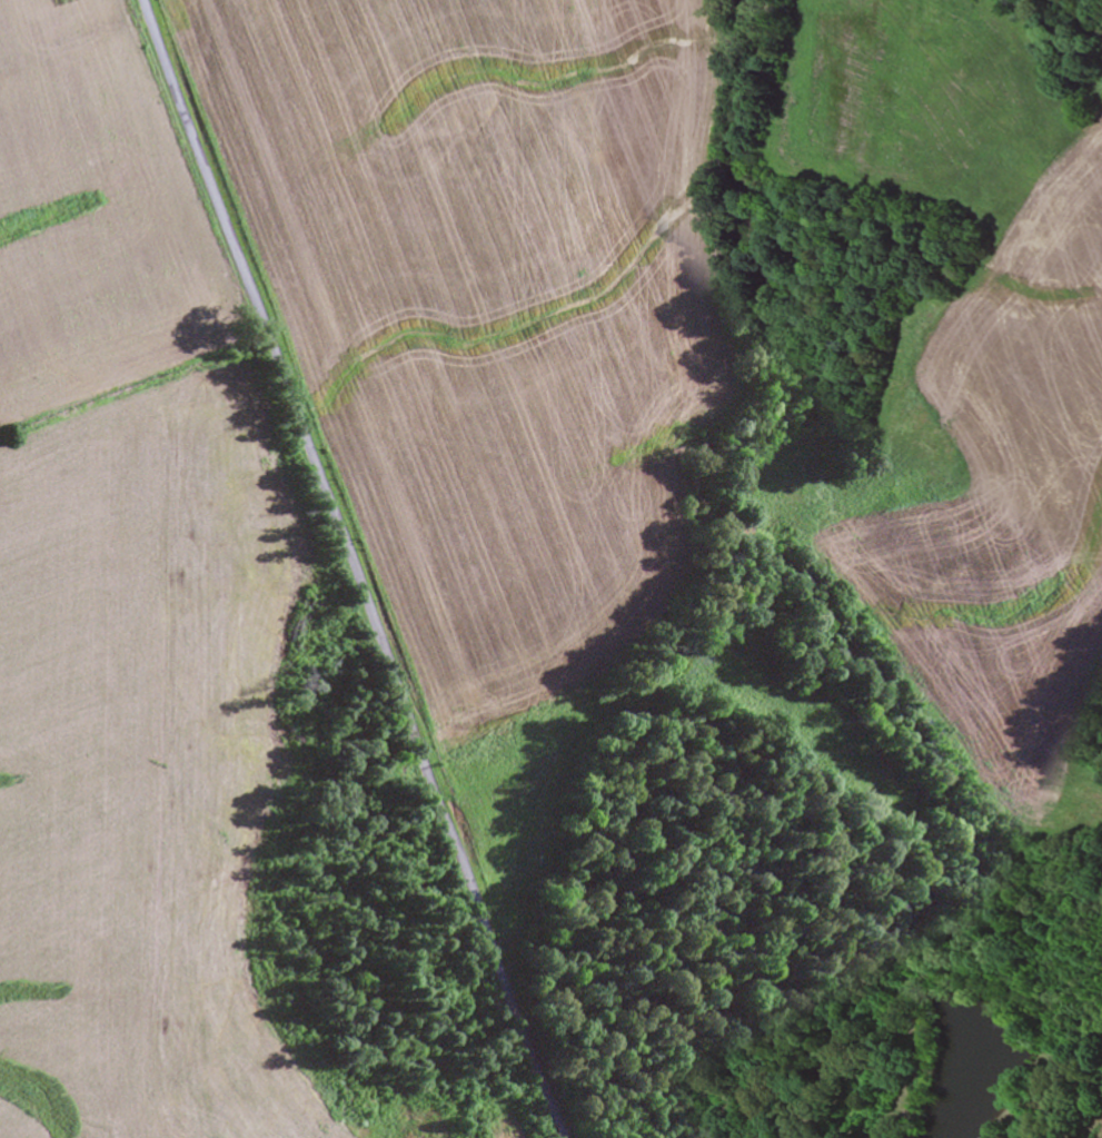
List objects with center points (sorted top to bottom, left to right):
road: (351, 568)

